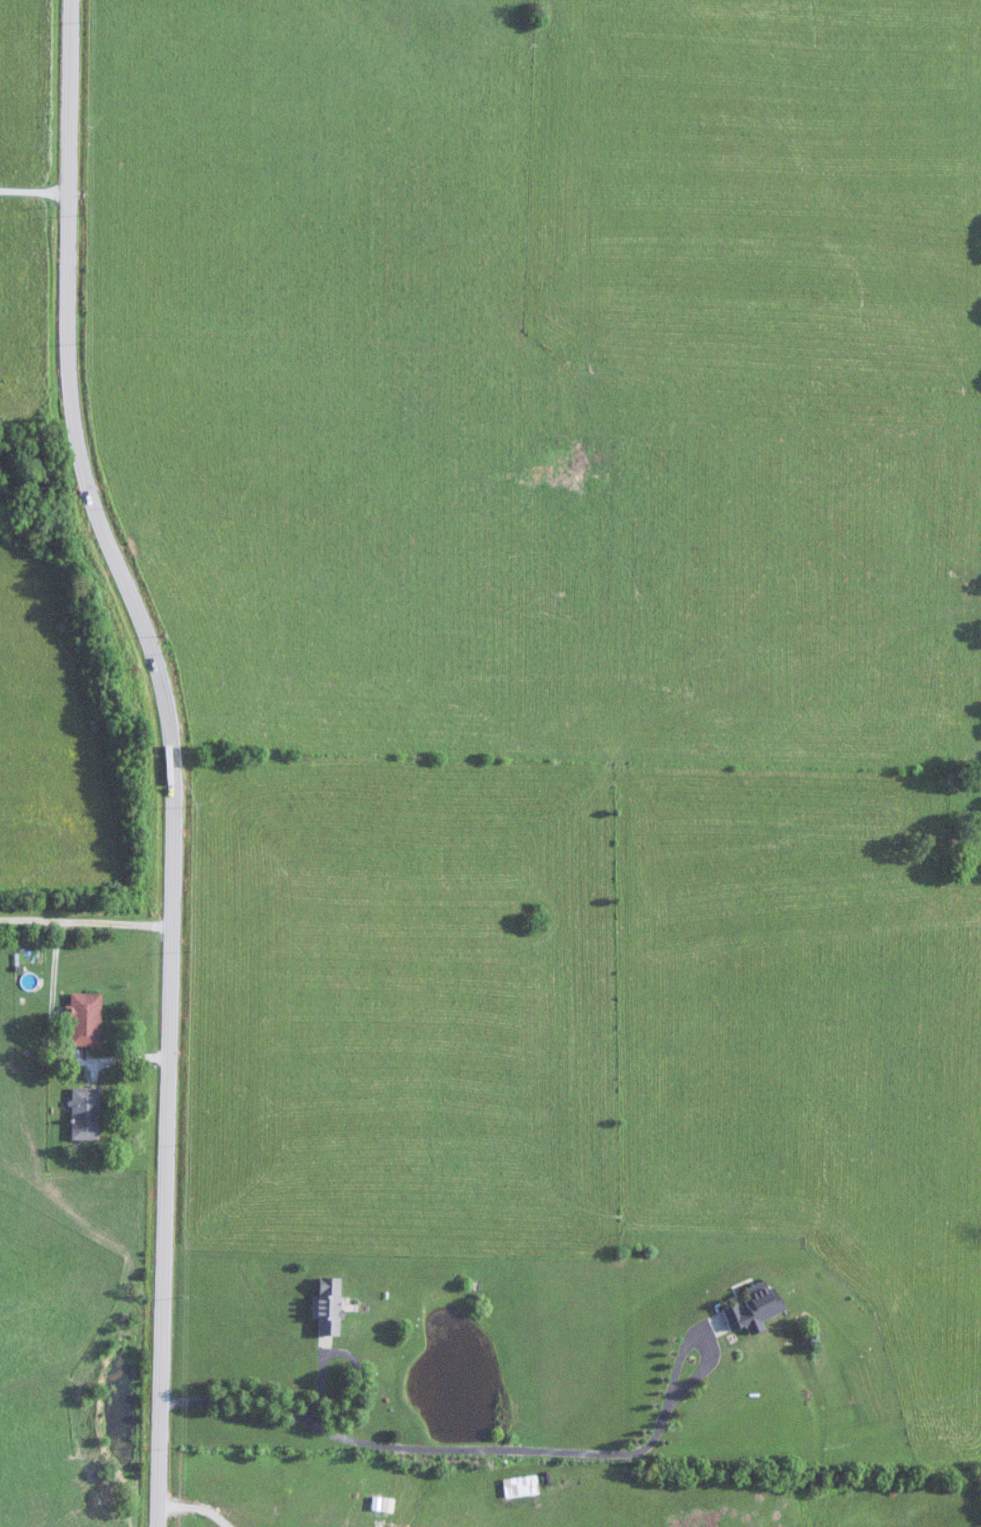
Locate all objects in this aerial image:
road: (39, 189)
crop: (47, 743)
road: (180, 755)
road: (90, 916)
road: (64, 961)
building: (97, 1018)
road: (131, 1054)
road: (107, 1062)
building: (93, 1111)
building: (338, 1303)
building: (749, 1308)
road: (329, 1379)
road: (512, 1447)

